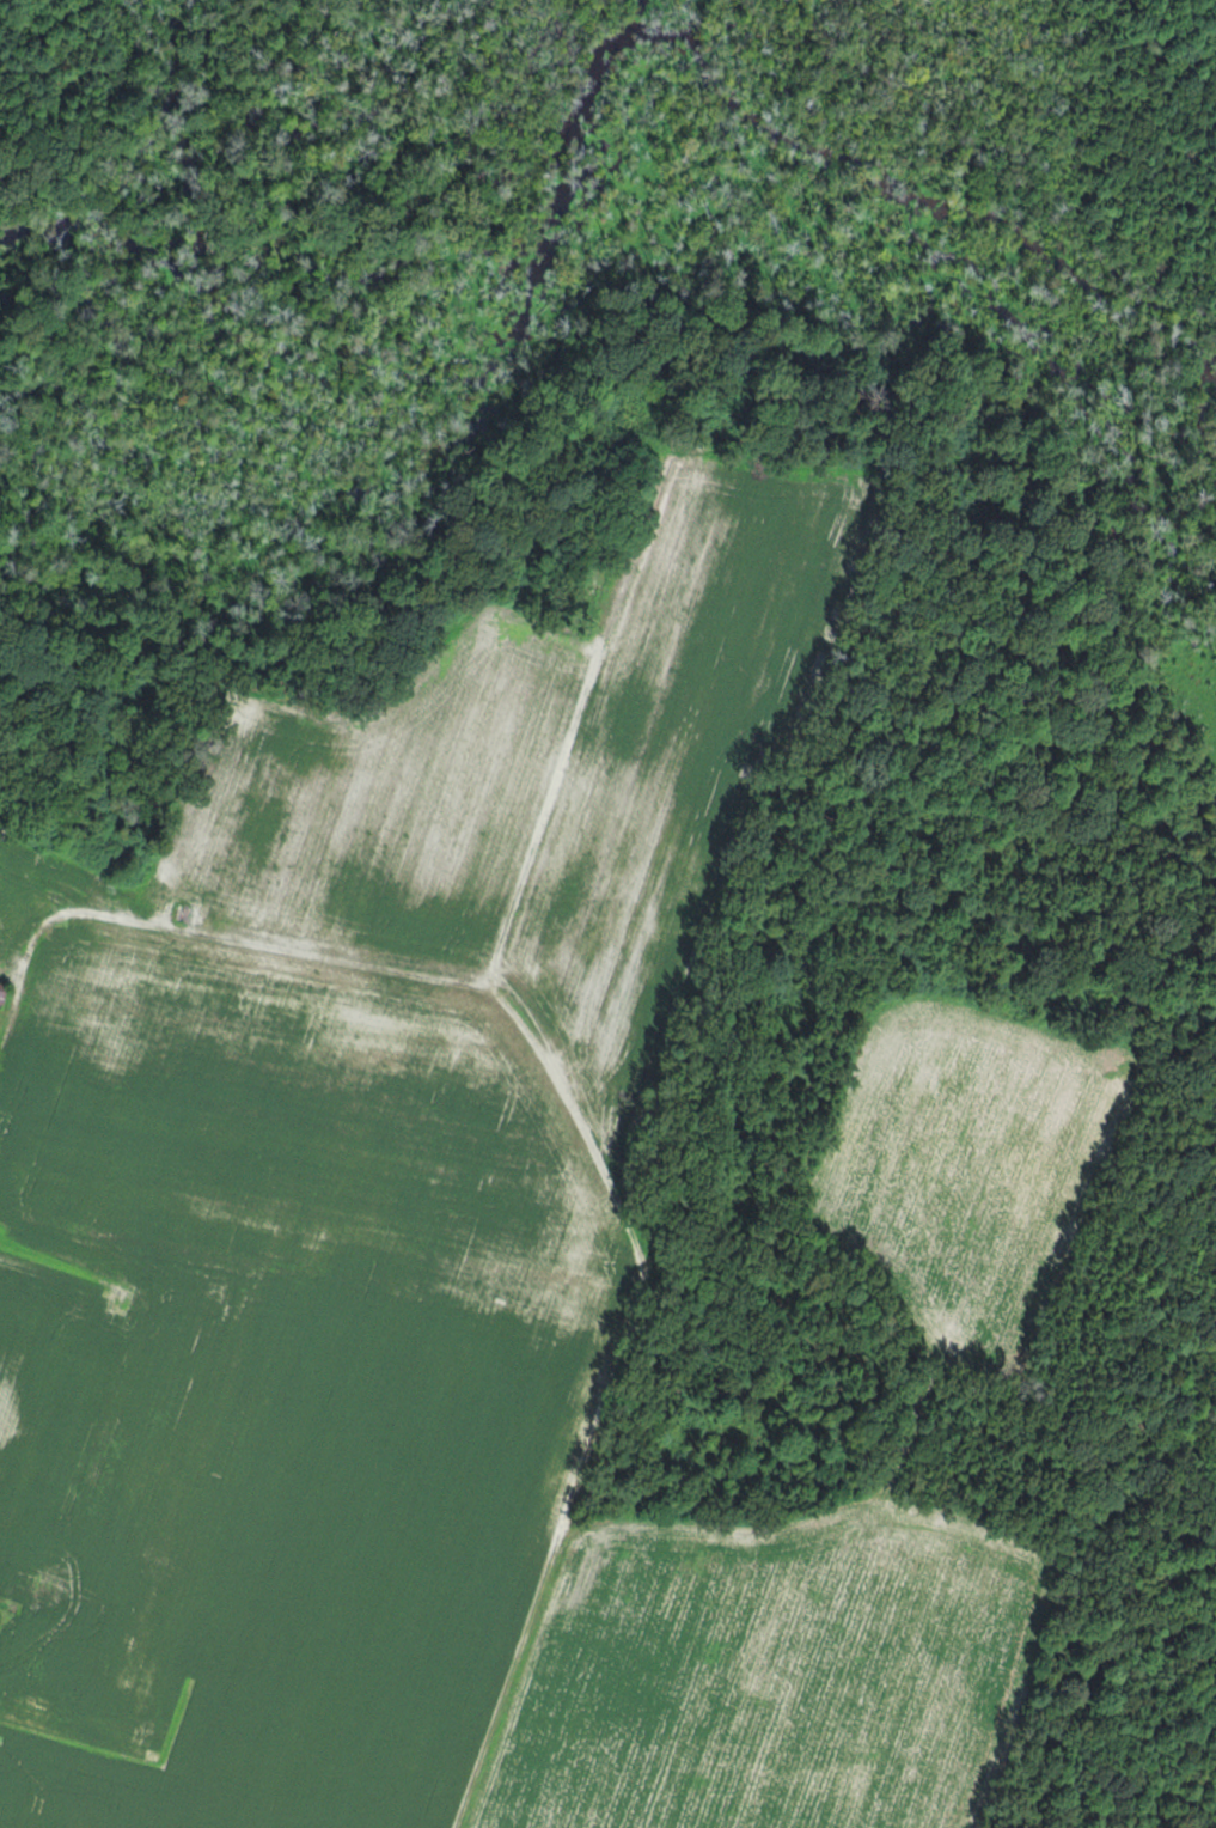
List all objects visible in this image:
building: (5, 997)

